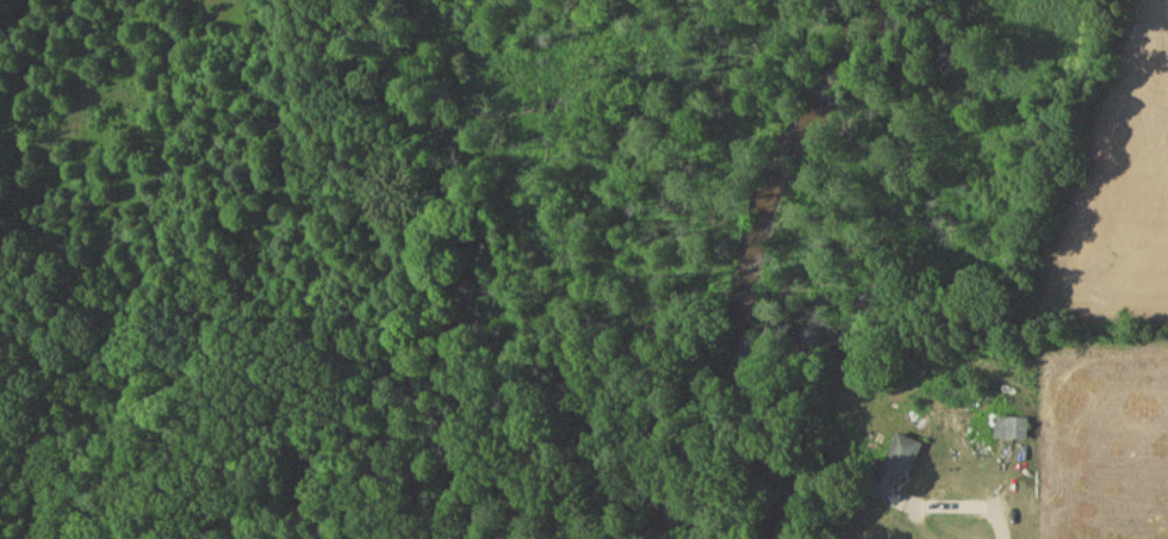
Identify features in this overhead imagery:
building: (1012, 432)
building: (900, 467)
road: (964, 508)

